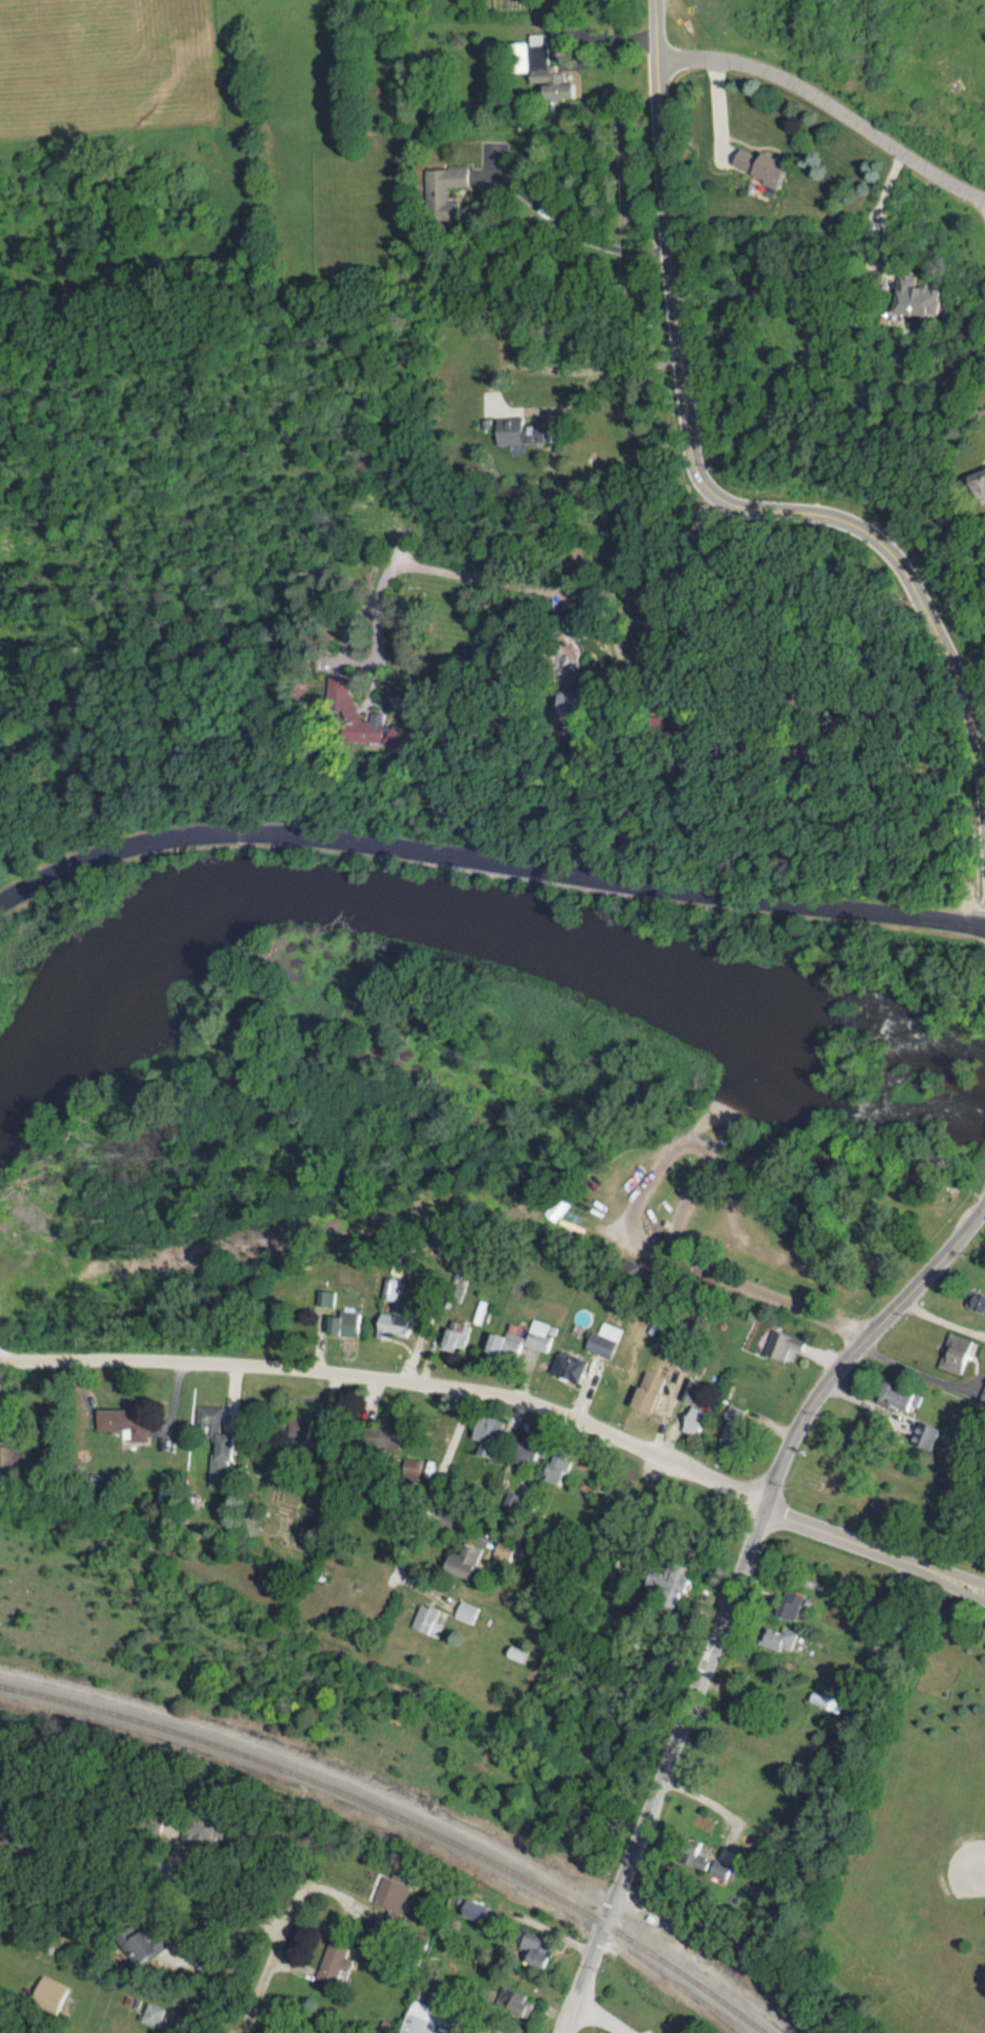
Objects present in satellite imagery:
road: (563, 31)
road: (830, 103)
road: (717, 105)
building: (771, 171)
road: (885, 212)
road: (574, 224)
road: (580, 360)
building: (517, 432)
road: (704, 476)
road: (477, 579)
road: (724, 618)
road: (634, 671)
road: (487, 859)
river: (475, 943)
park: (463, 1088)
road: (703, 1122)
road: (669, 1155)
parking lot: (662, 1199)
road: (511, 1207)
toll booth: (678, 1221)
toll booth: (666, 1223)
road: (786, 1247)
building: (633, 1269)
road: (932, 1274)
road: (9, 1300)
road: (783, 1300)
building: (975, 1302)
building: (456, 1340)
building: (606, 1340)
building: (527, 1343)
building: (783, 1346)
building: (956, 1355)
building: (574, 1368)
road: (922, 1370)
road: (395, 1381)
building: (653, 1391)
building: (698, 1422)
building: (737, 1426)
building: (133, 1427)
building: (485, 1439)
building: (6, 1456)
building: (223, 1458)
building: (558, 1470)
road: (423, 1512)
road: (858, 1543)
road: (967, 1579)
toll booth: (969, 1585)
road: (965, 1589)
toll booth: (966, 1590)
building: (467, 1612)
building: (430, 1621)
road: (708, 1658)
park: (891, 1763)
road: (713, 1799)
railway: (401, 1820)
park: (944, 1847)
road: (219, 1893)
building: (540, 1951)
road: (274, 1955)
road: (218, 1956)
building: (338, 1963)
road: (569, 2014)
road: (601, 2016)
building: (421, 2020)
parking lot: (645, 2030)

